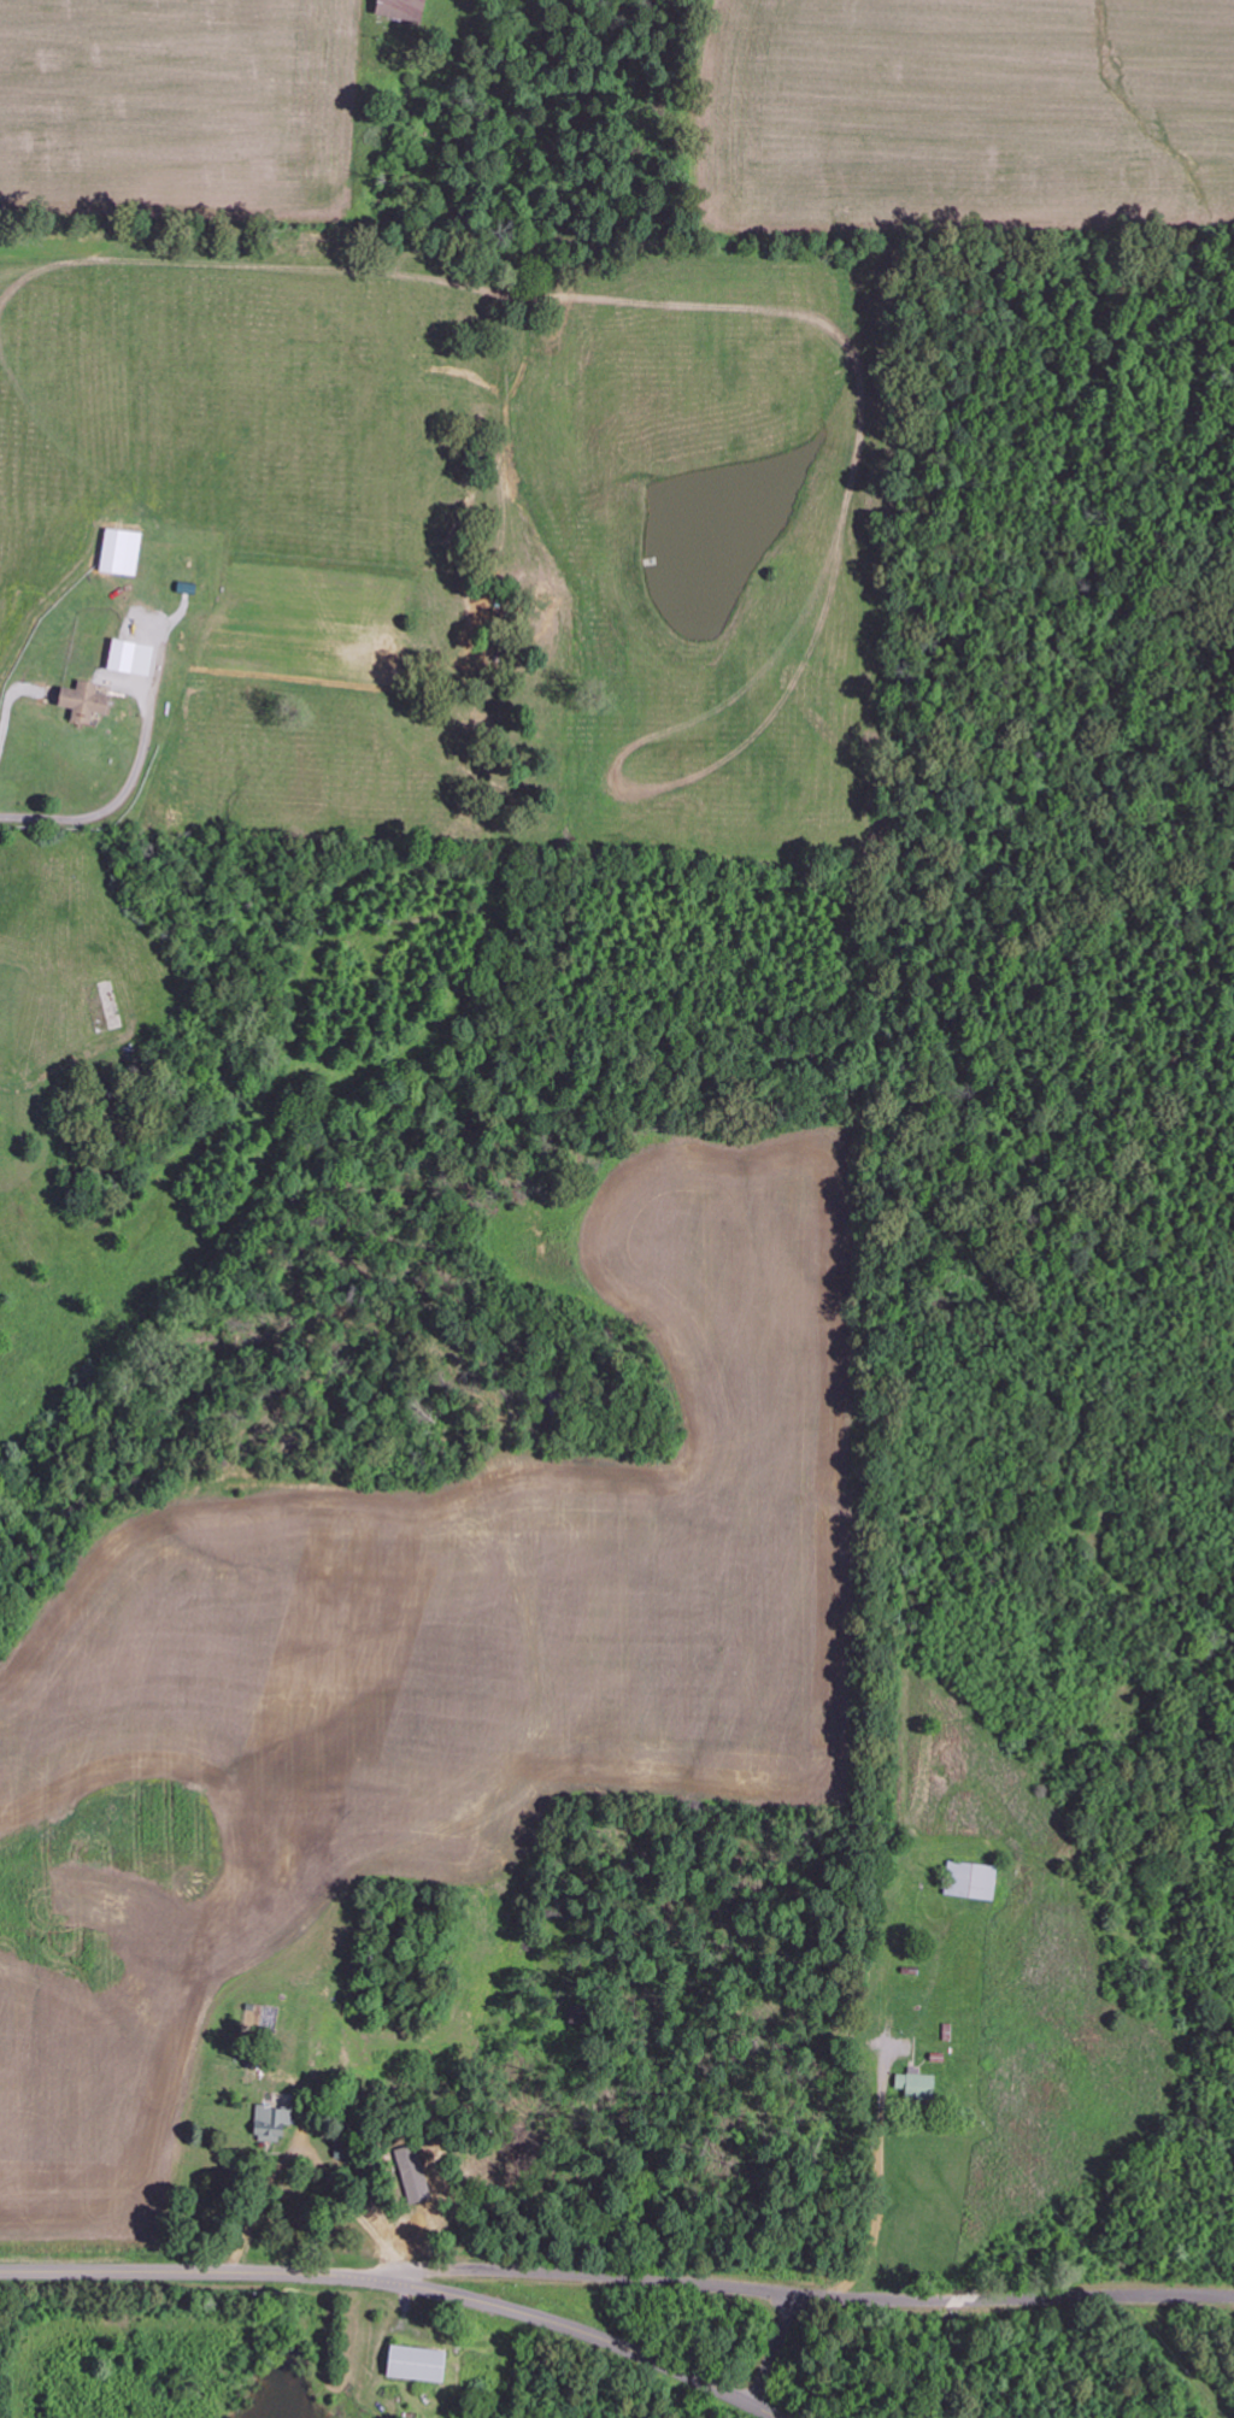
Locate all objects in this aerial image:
building: (123, 552)
building: (134, 658)
building: (88, 701)
road: (65, 819)
building: (918, 2084)
building: (274, 2124)
road: (380, 2132)
road: (399, 2279)
road: (805, 2291)
road: (772, 2349)
building: (421, 2364)

